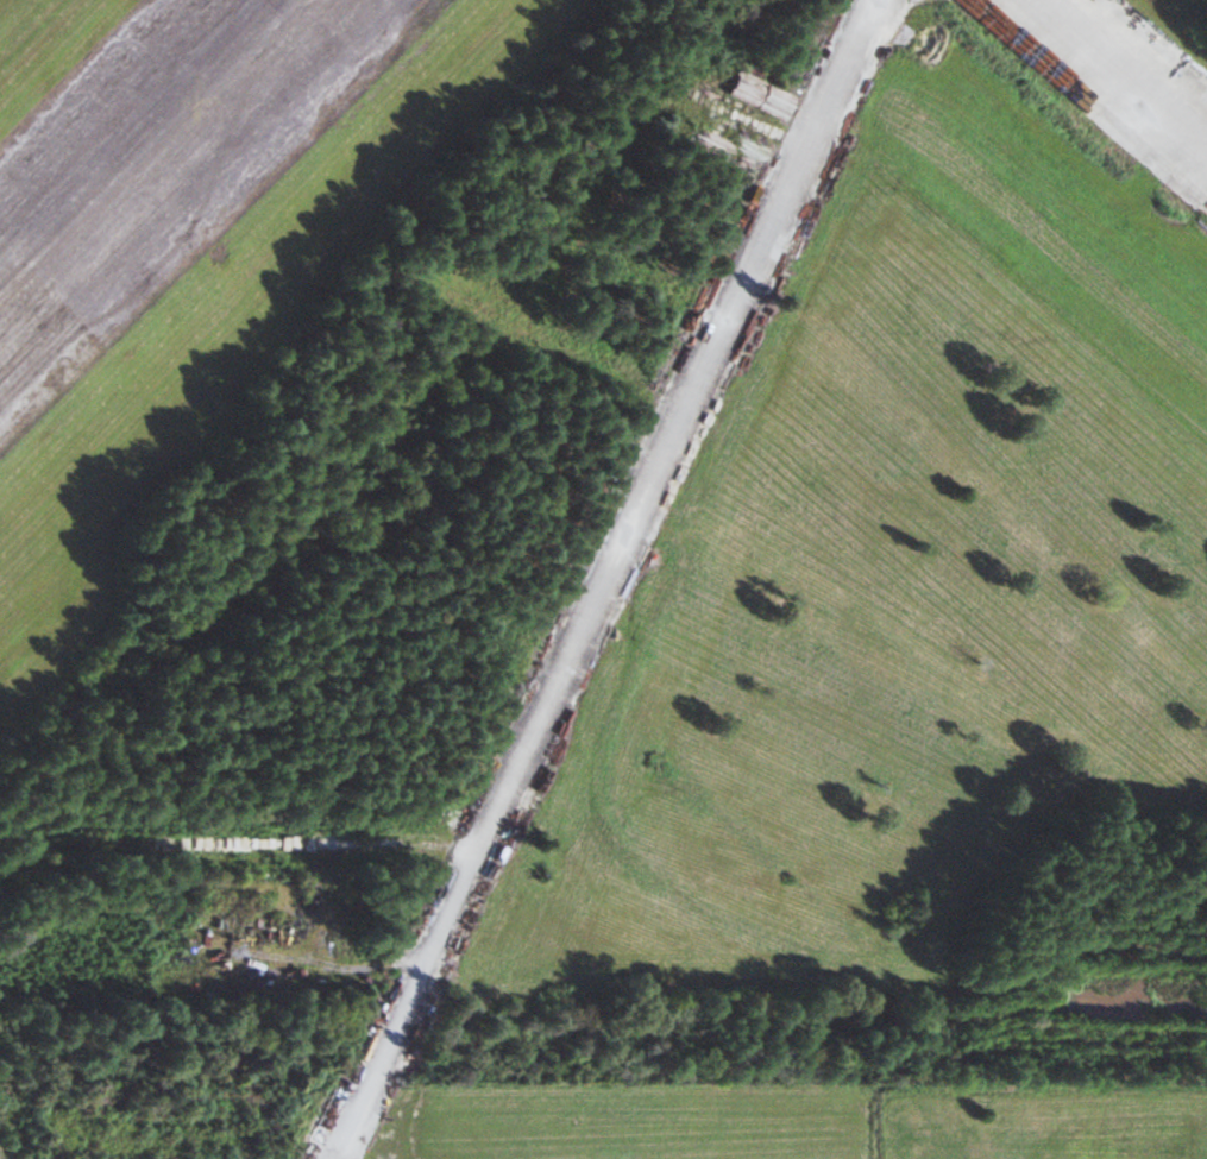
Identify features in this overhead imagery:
airport: (186, 189)

